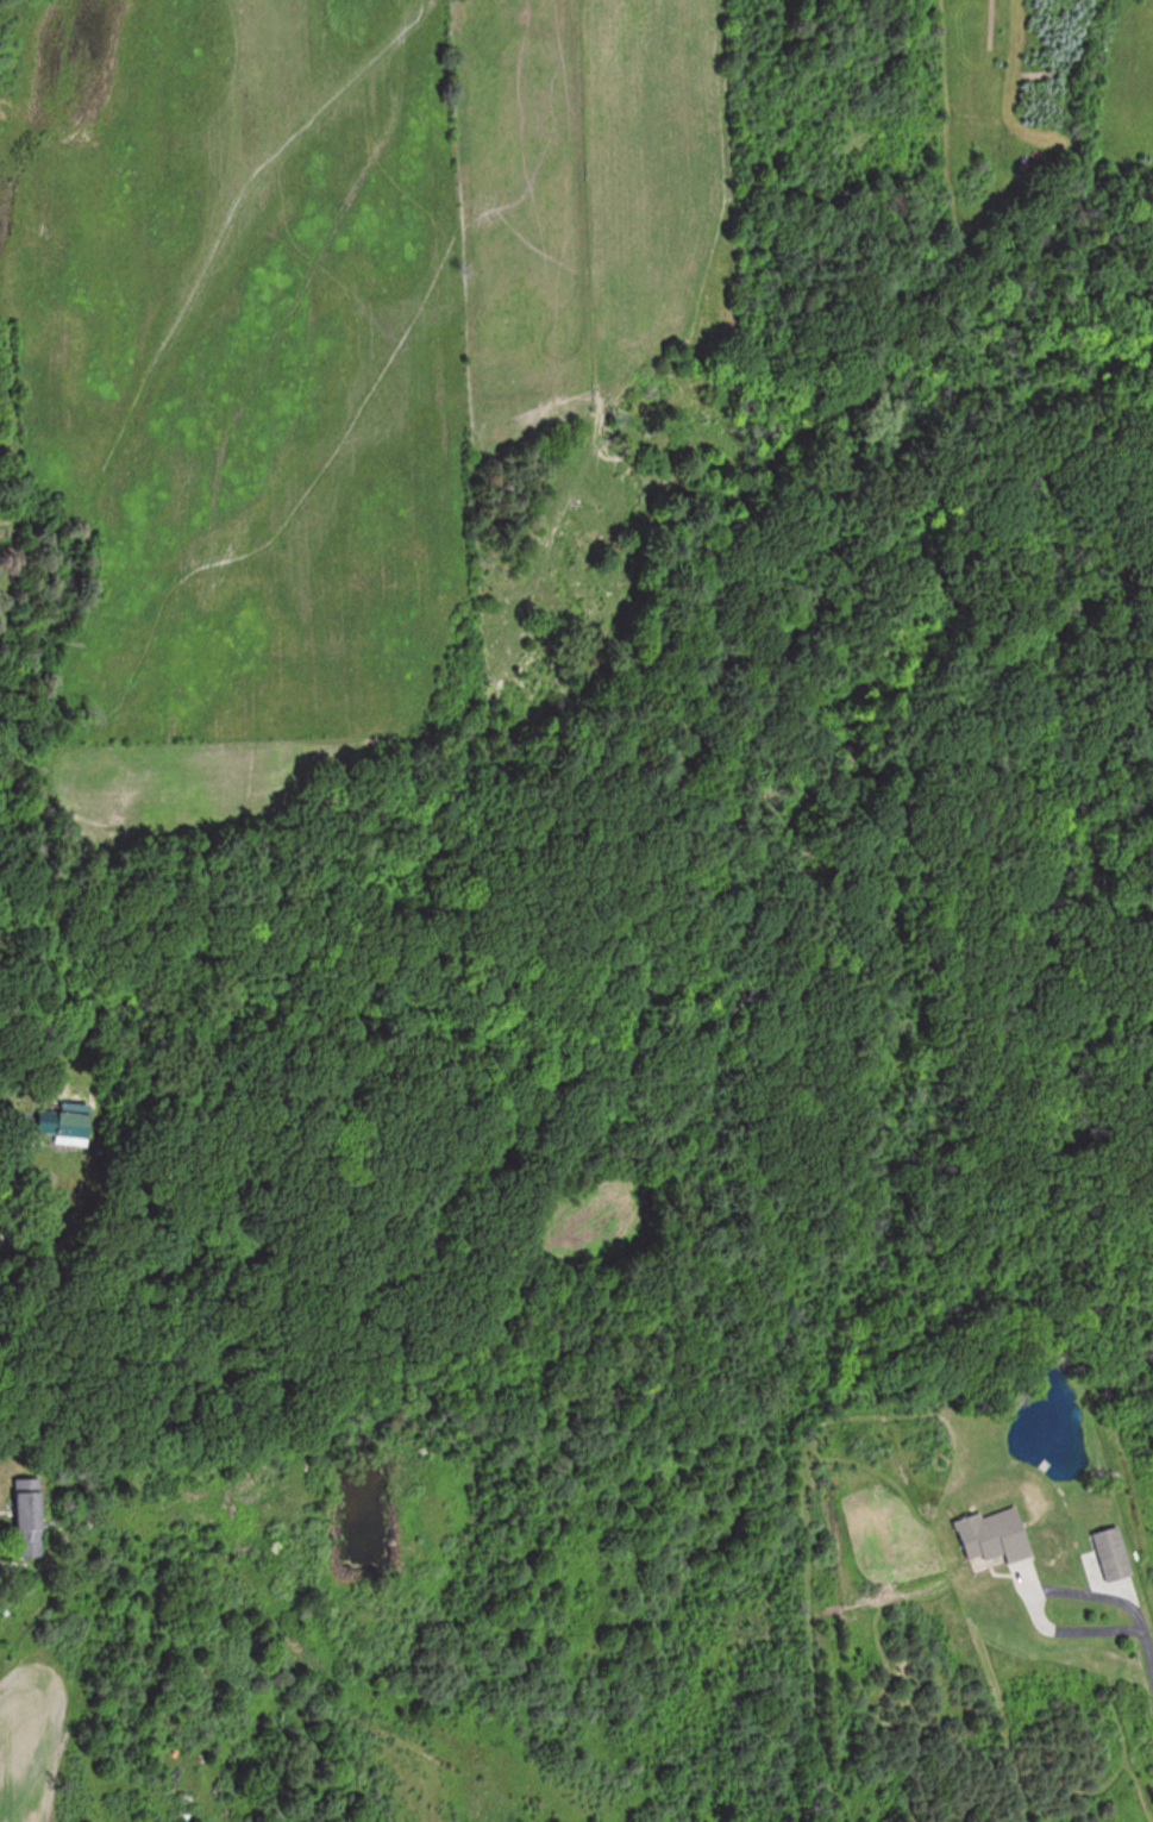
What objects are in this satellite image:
building: (59, 1122)
building: (31, 1519)
building: (995, 1536)
building: (1111, 1554)
road: (1034, 1590)
road: (1146, 1655)

